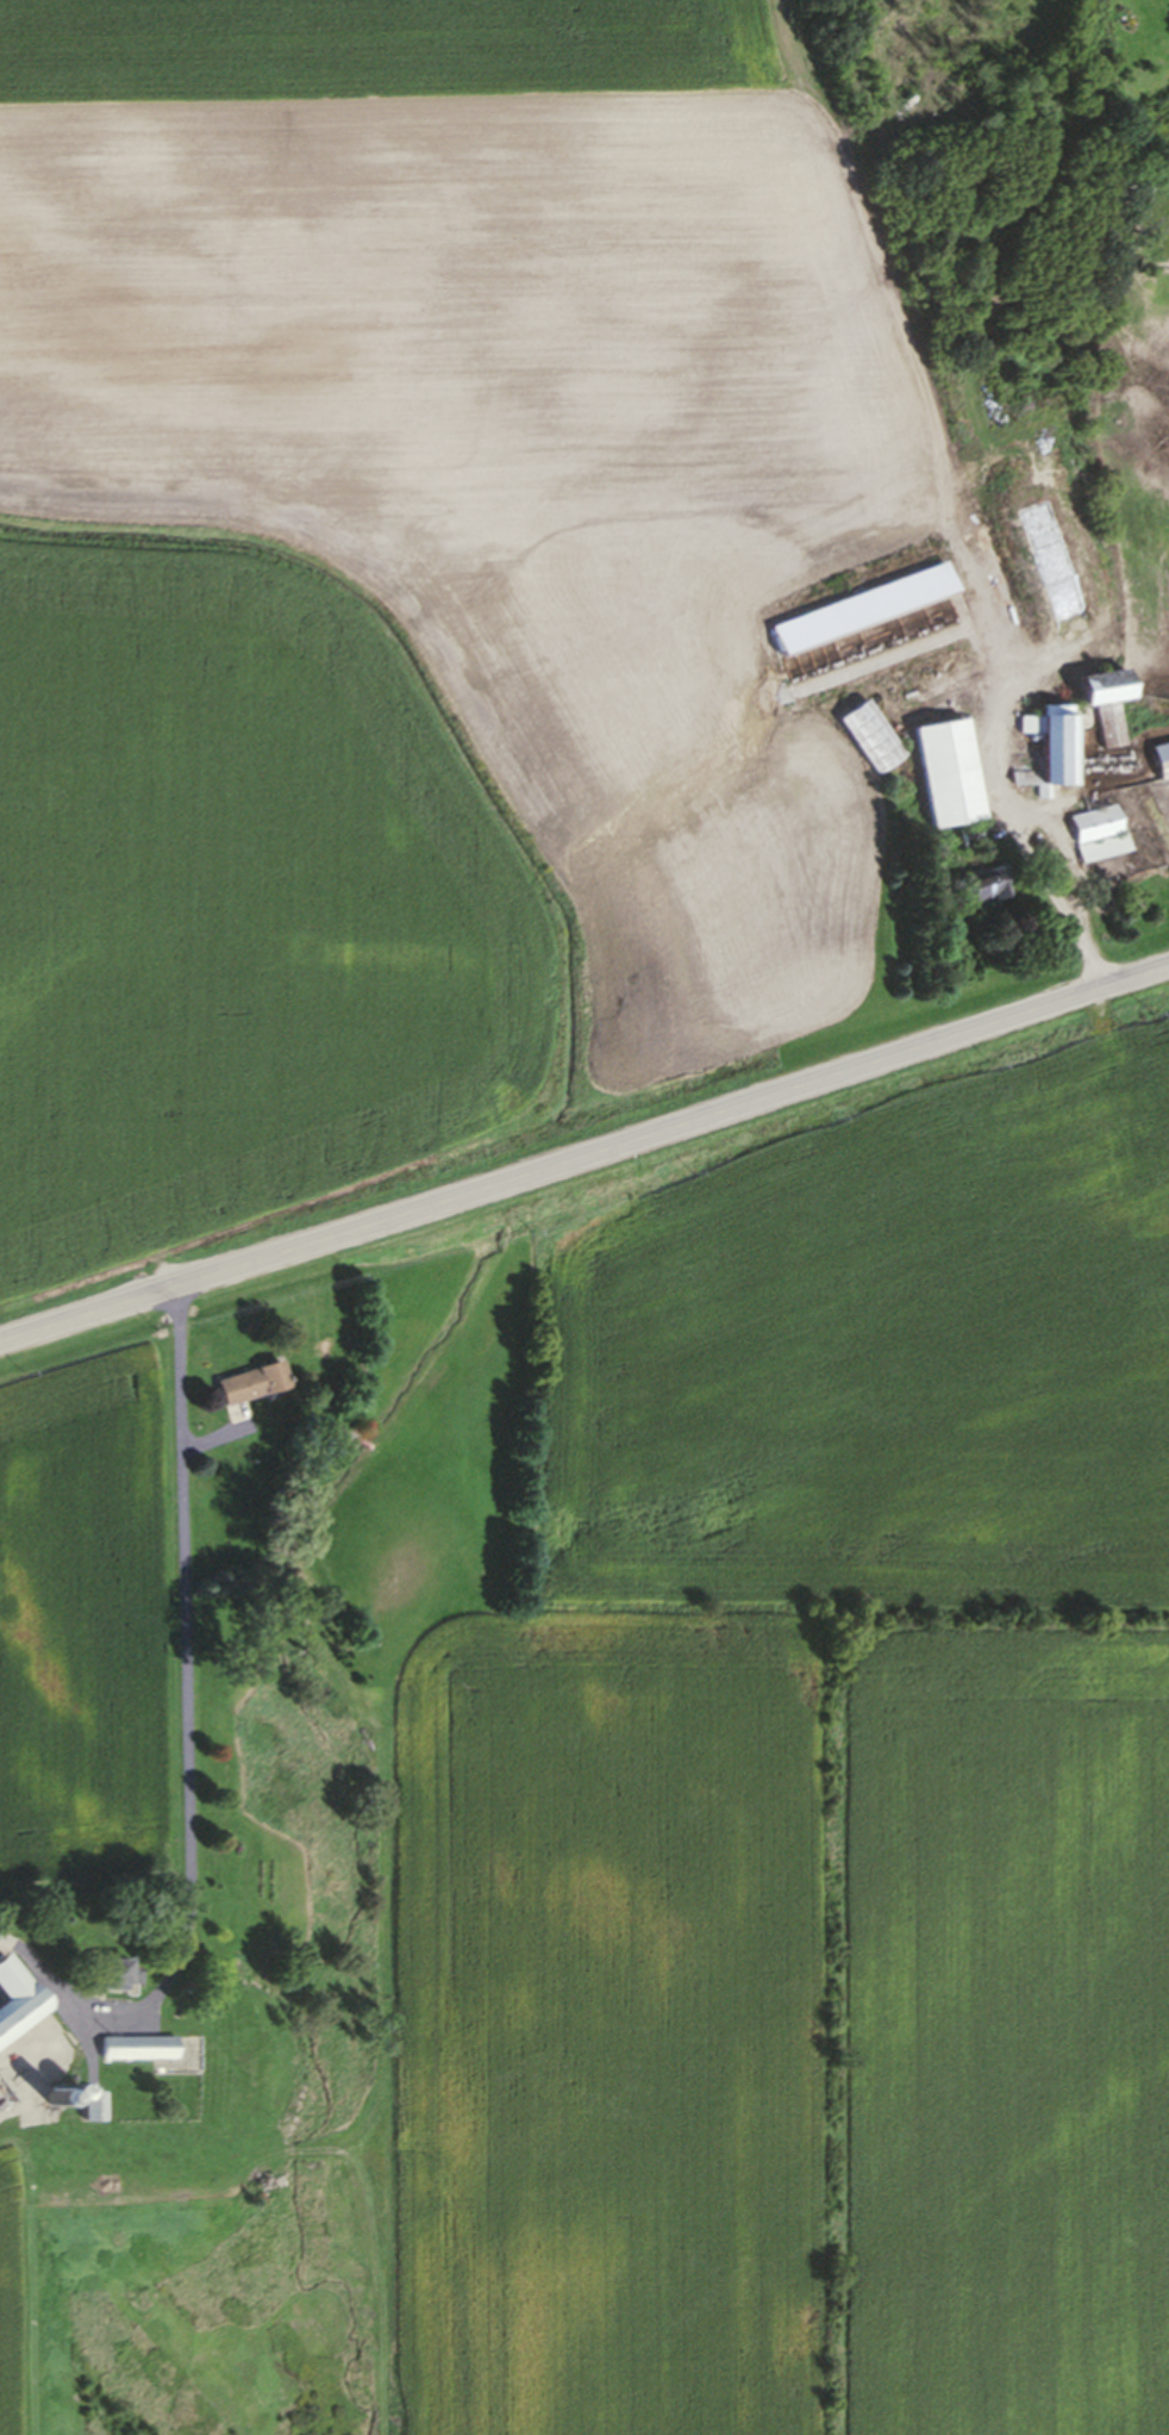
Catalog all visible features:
building: (858, 612)
building: (1098, 691)
building: (868, 741)
building: (1048, 753)
building: (1162, 764)
building: (944, 777)
building: (1099, 837)
building: (981, 891)
road: (1070, 916)
road: (584, 1157)
building: (248, 1388)
road: (179, 1669)
building: (112, 1980)
building: (137, 2053)
building: (63, 2099)
building: (94, 2111)

